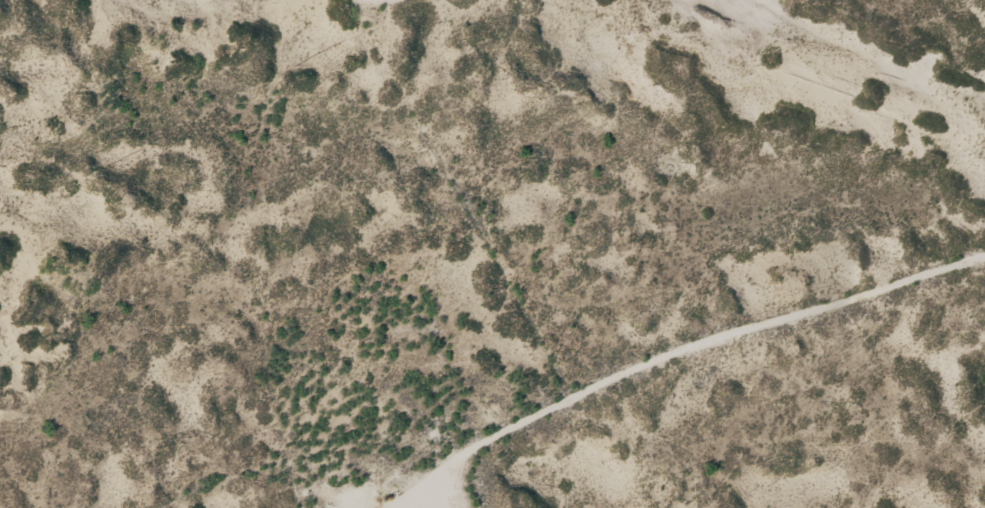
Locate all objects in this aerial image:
road: (423, 10)
road: (607, 344)

